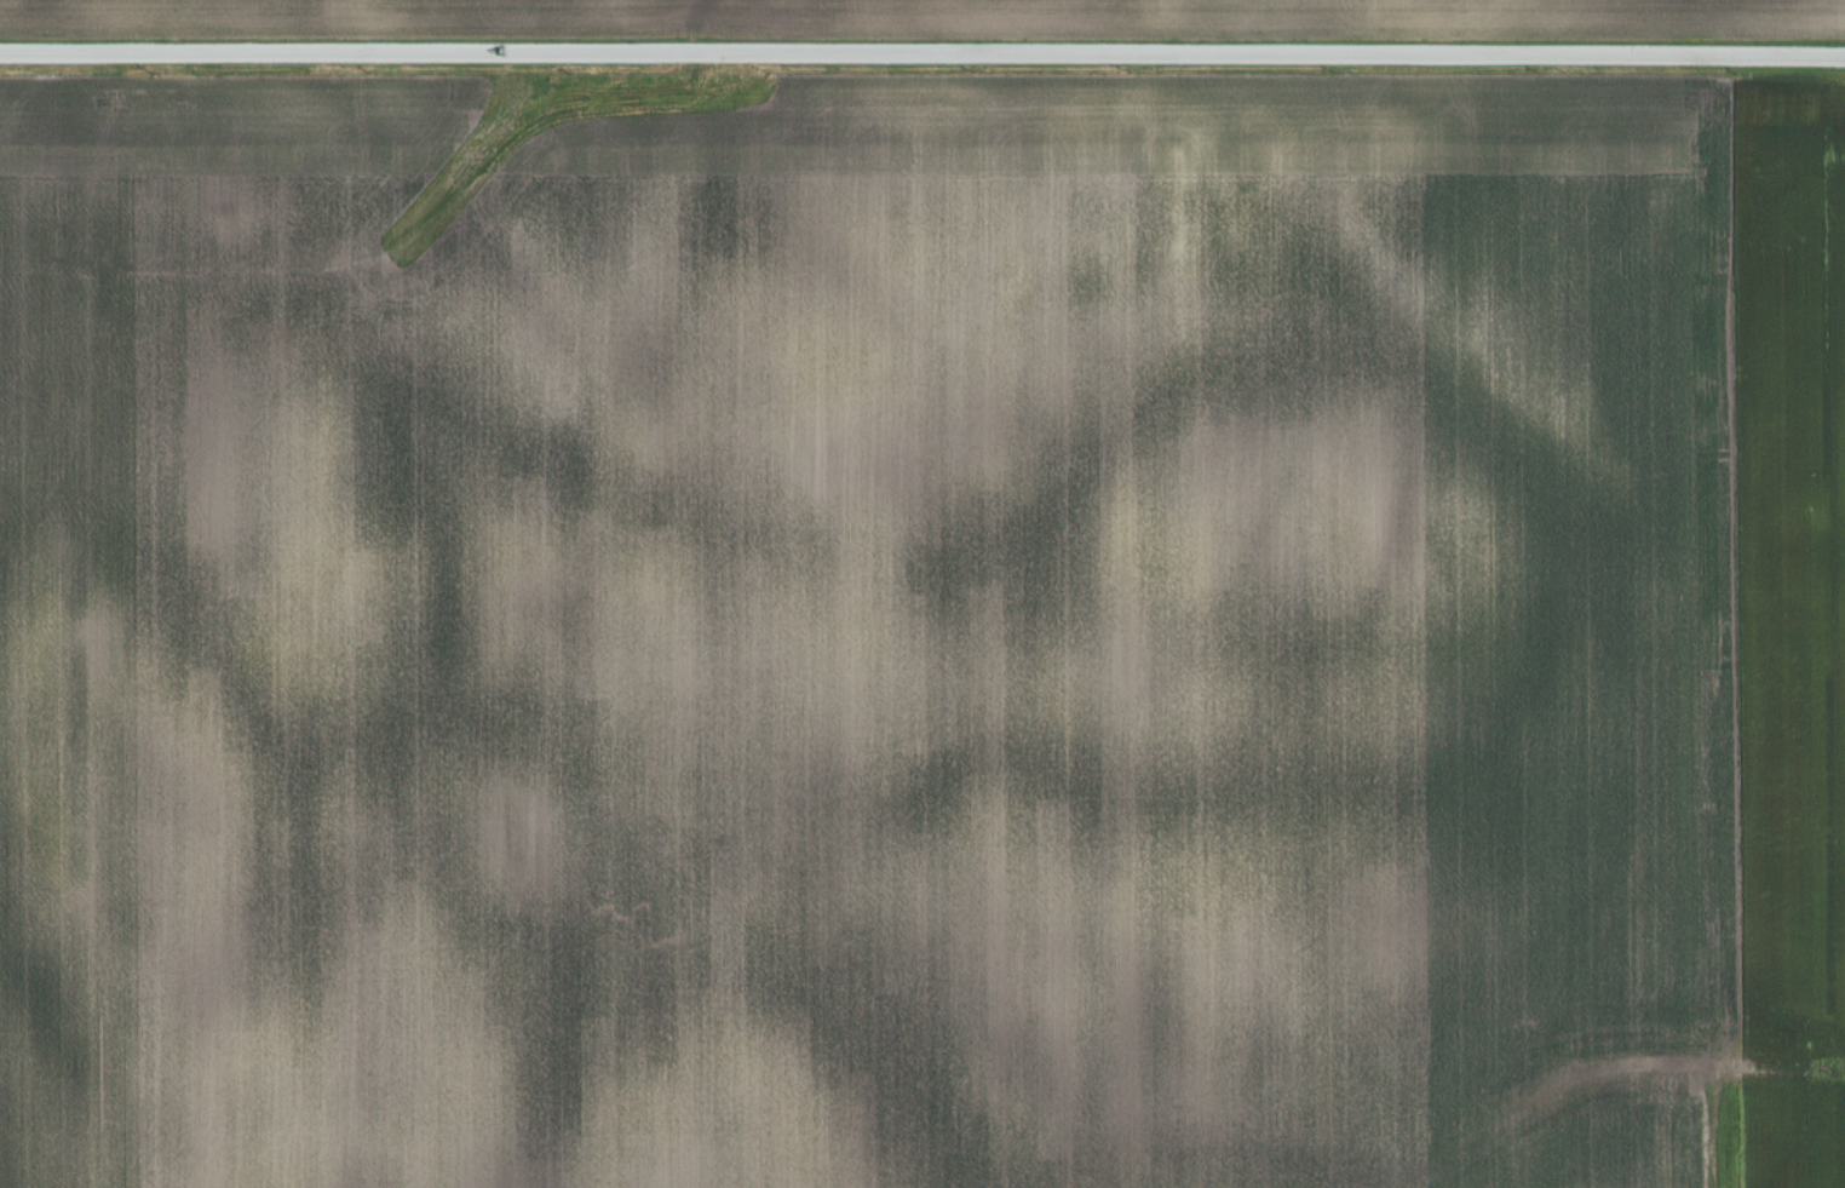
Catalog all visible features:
road: (922, 57)

